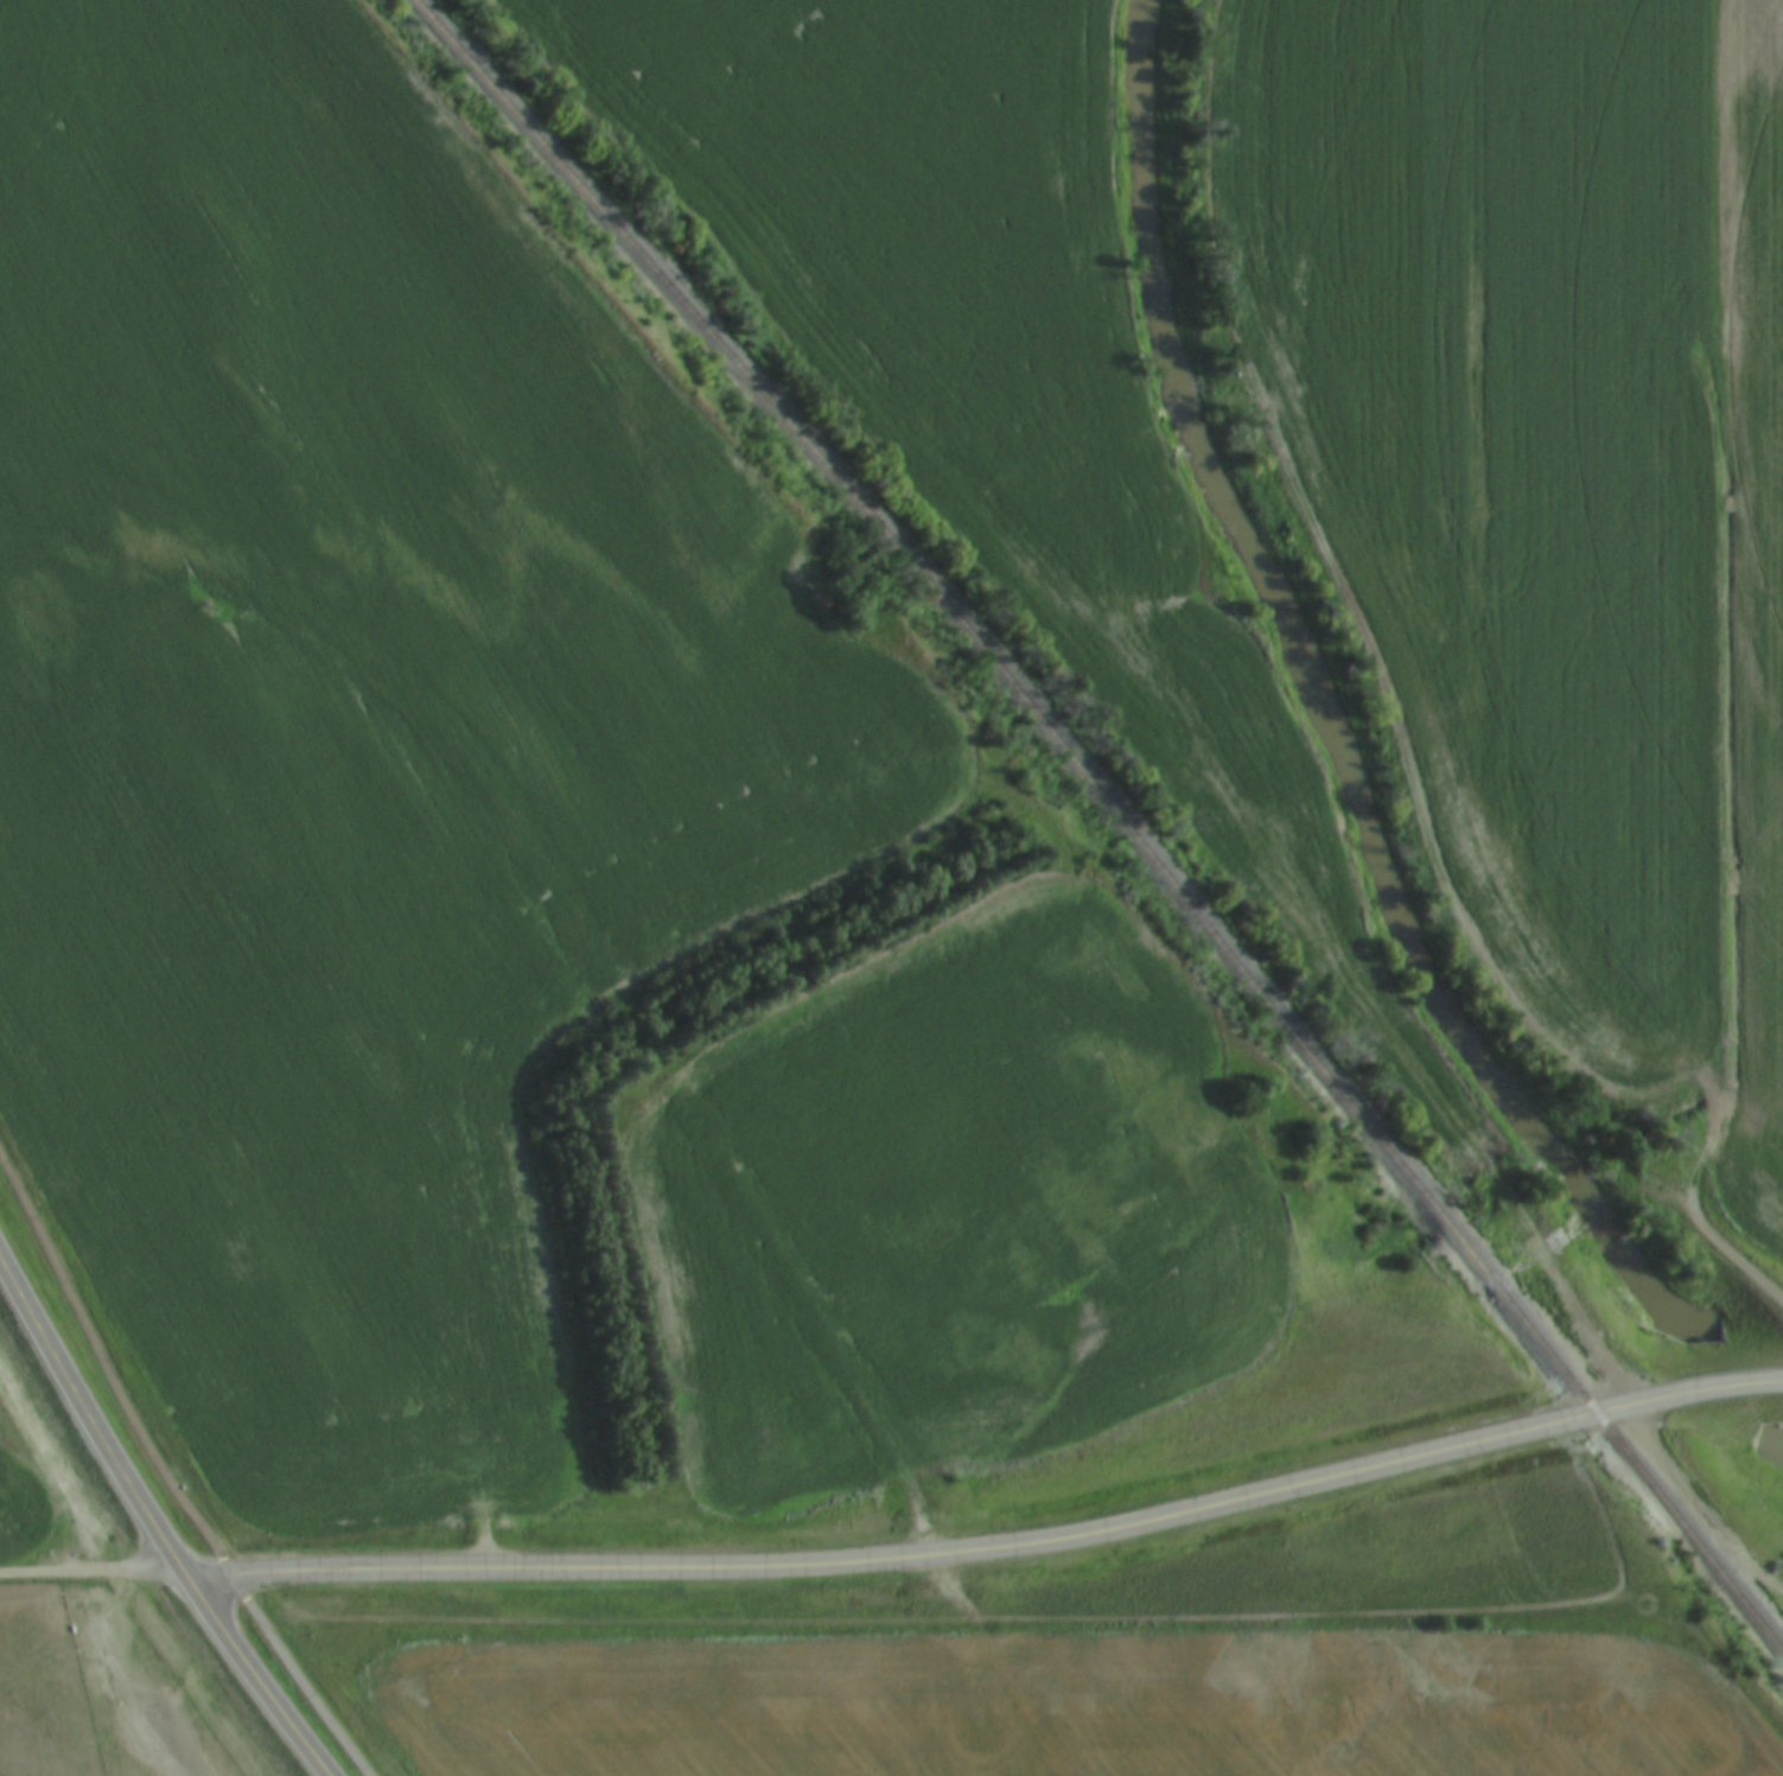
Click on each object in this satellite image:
railway: (1119, 810)
road: (1507, 985)
road: (811, 1306)
road: (167, 1475)
road: (155, 1529)
road: (992, 1547)
road: (93, 1578)

